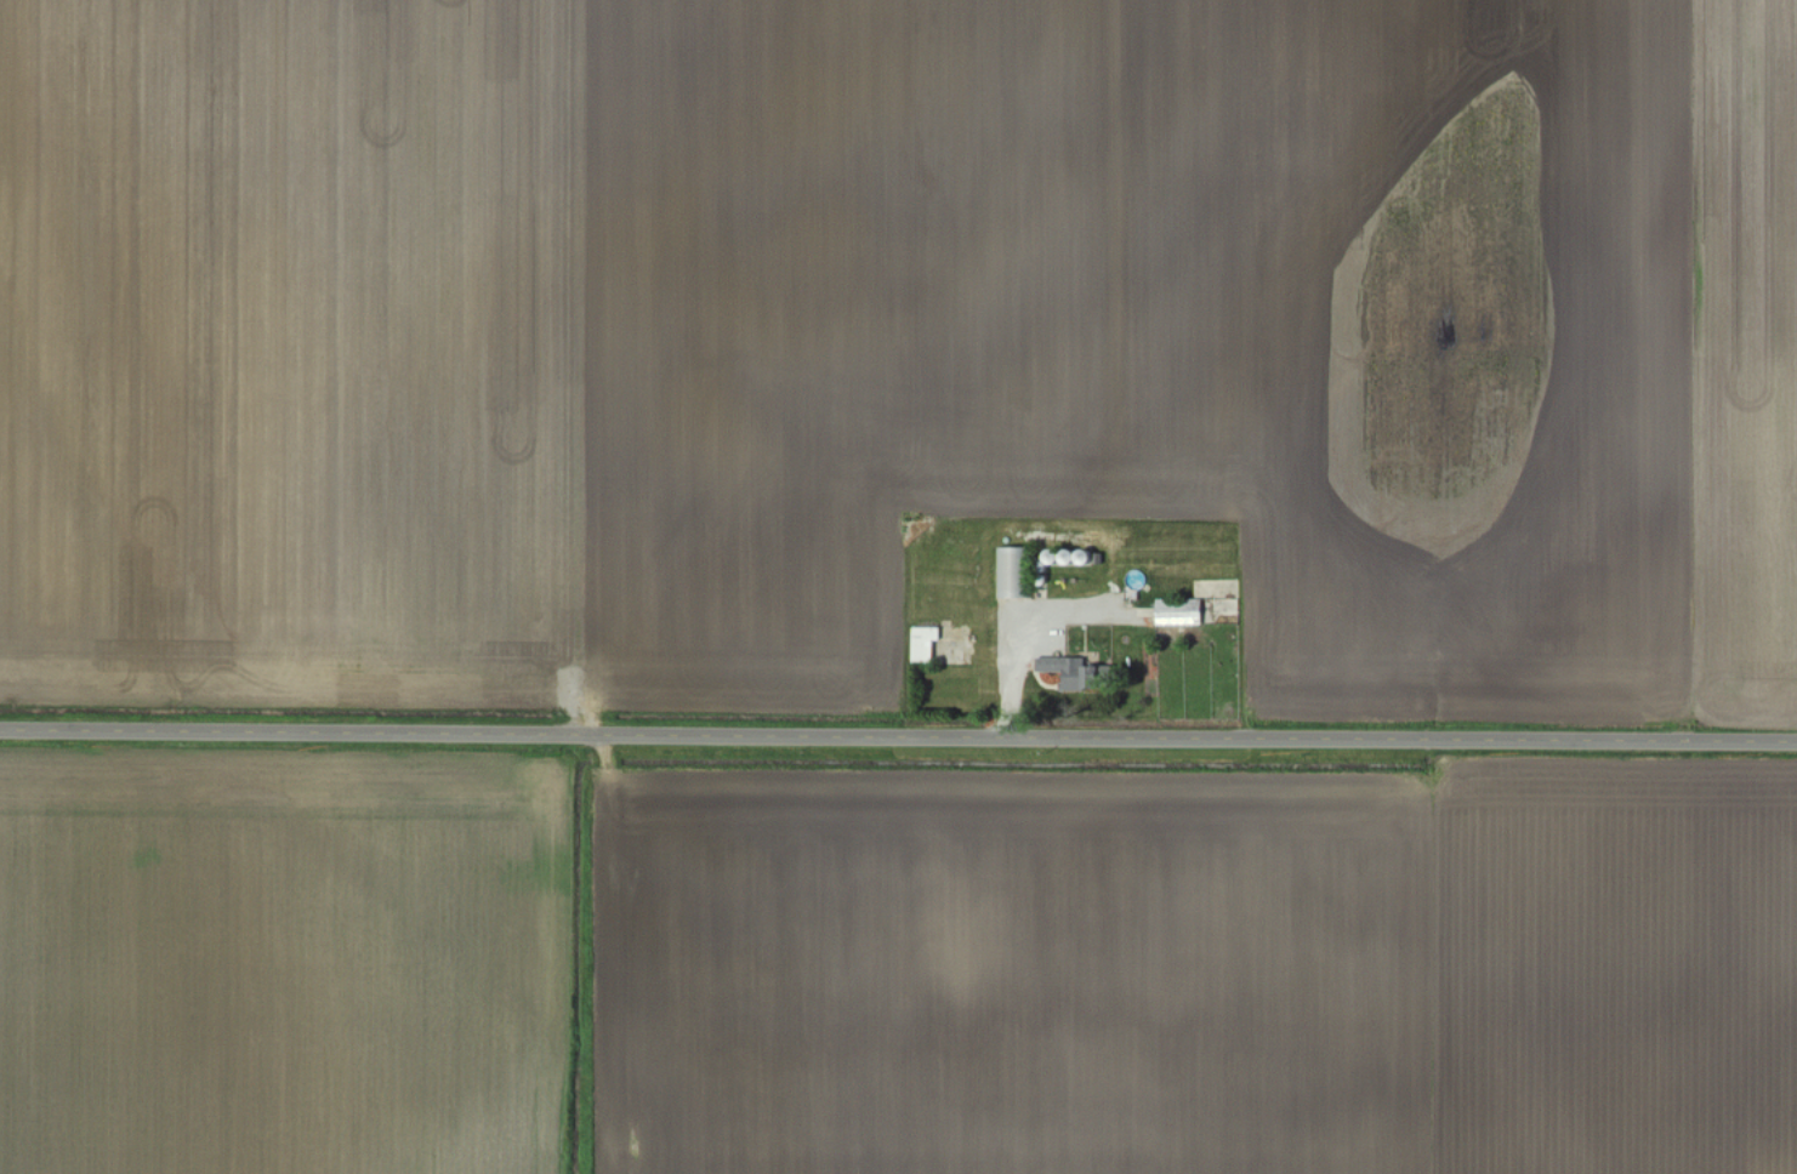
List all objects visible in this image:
building: (1183, 615)
road: (1012, 636)
building: (928, 645)
building: (1071, 672)
road: (898, 735)

